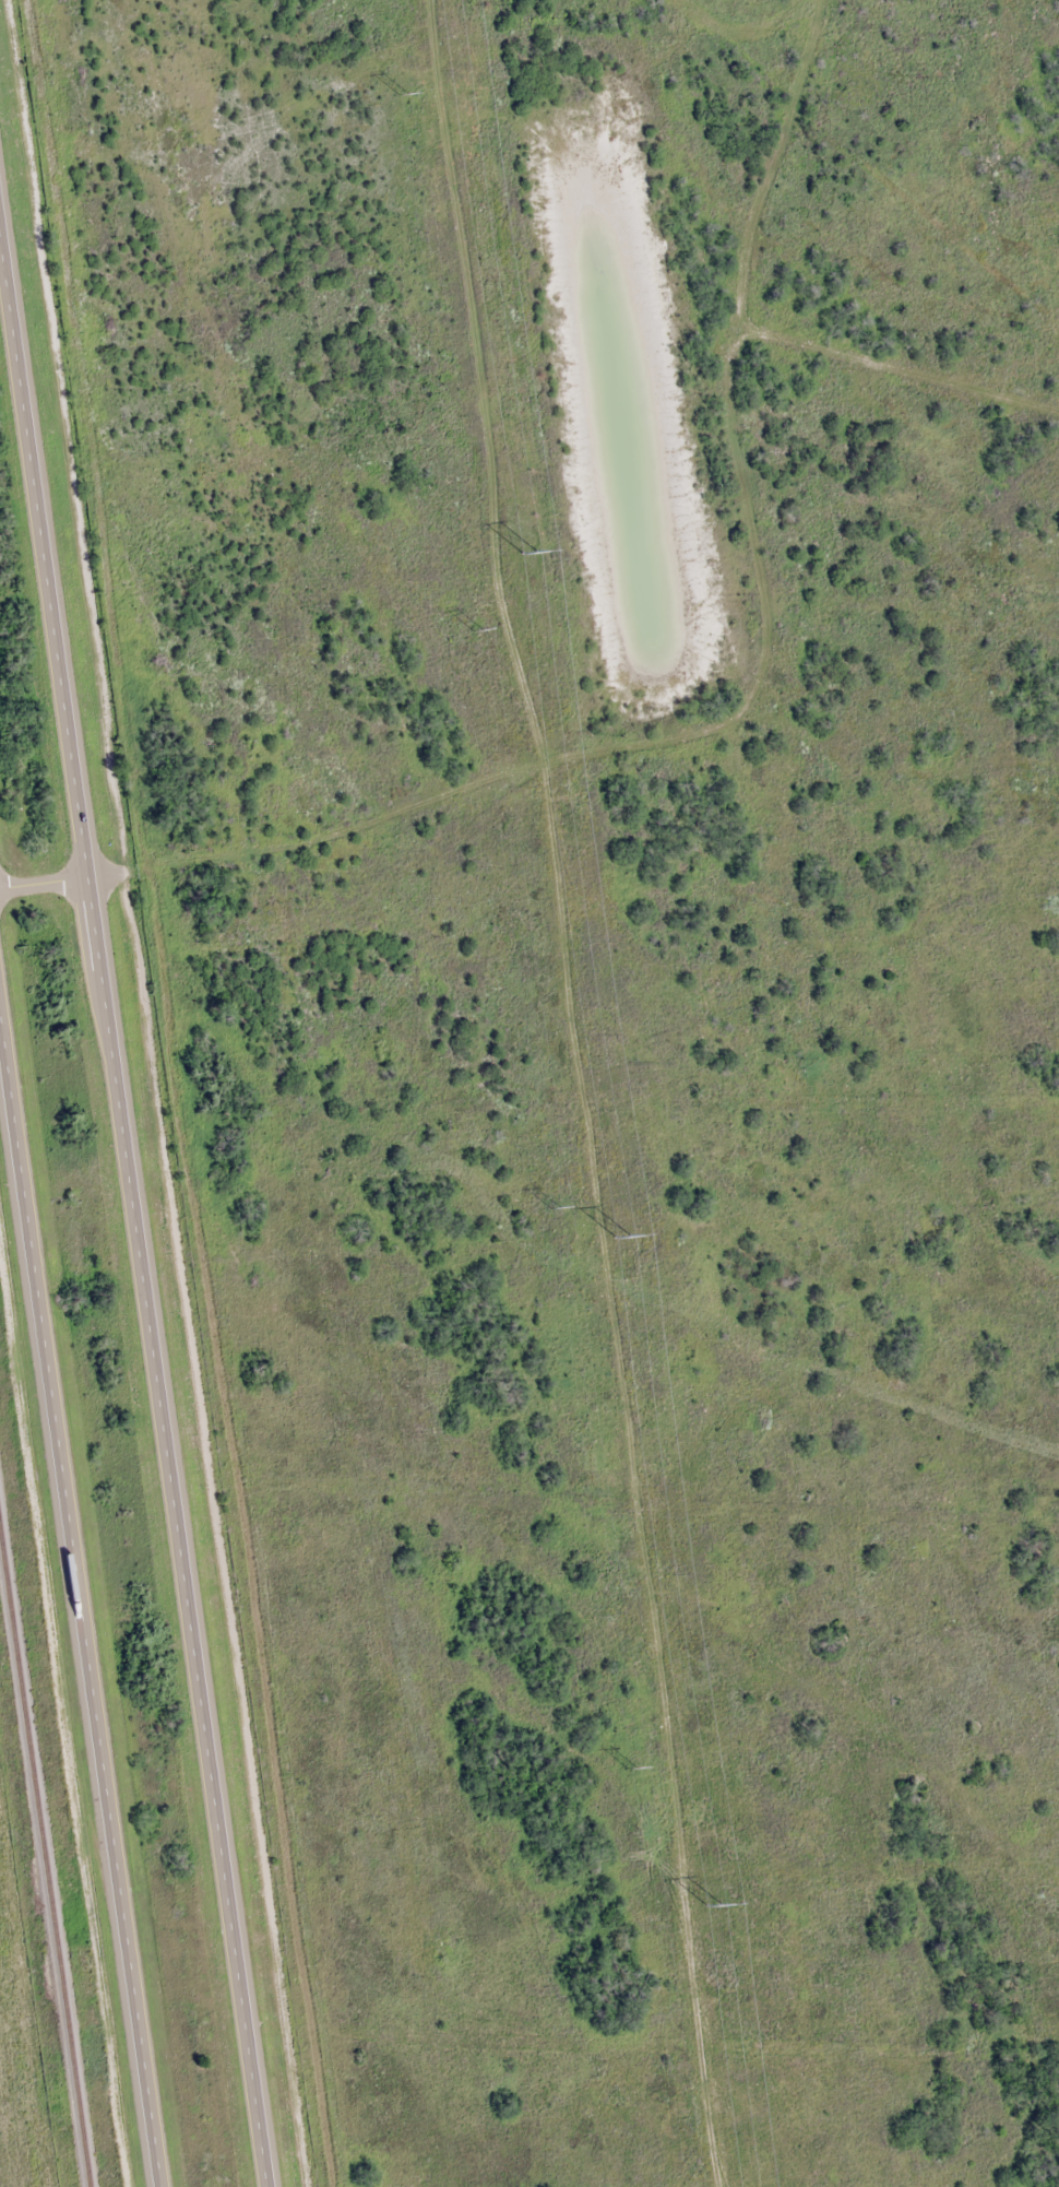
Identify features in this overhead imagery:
power tower: (402, 95)
power tower: (526, 554)
power tower: (477, 630)
road: (134, 1184)
power tower: (552, 1207)
power tower: (621, 1237)
road: (82, 1560)
power tower: (630, 1768)
railway: (46, 1843)
power tower: (713, 1906)

